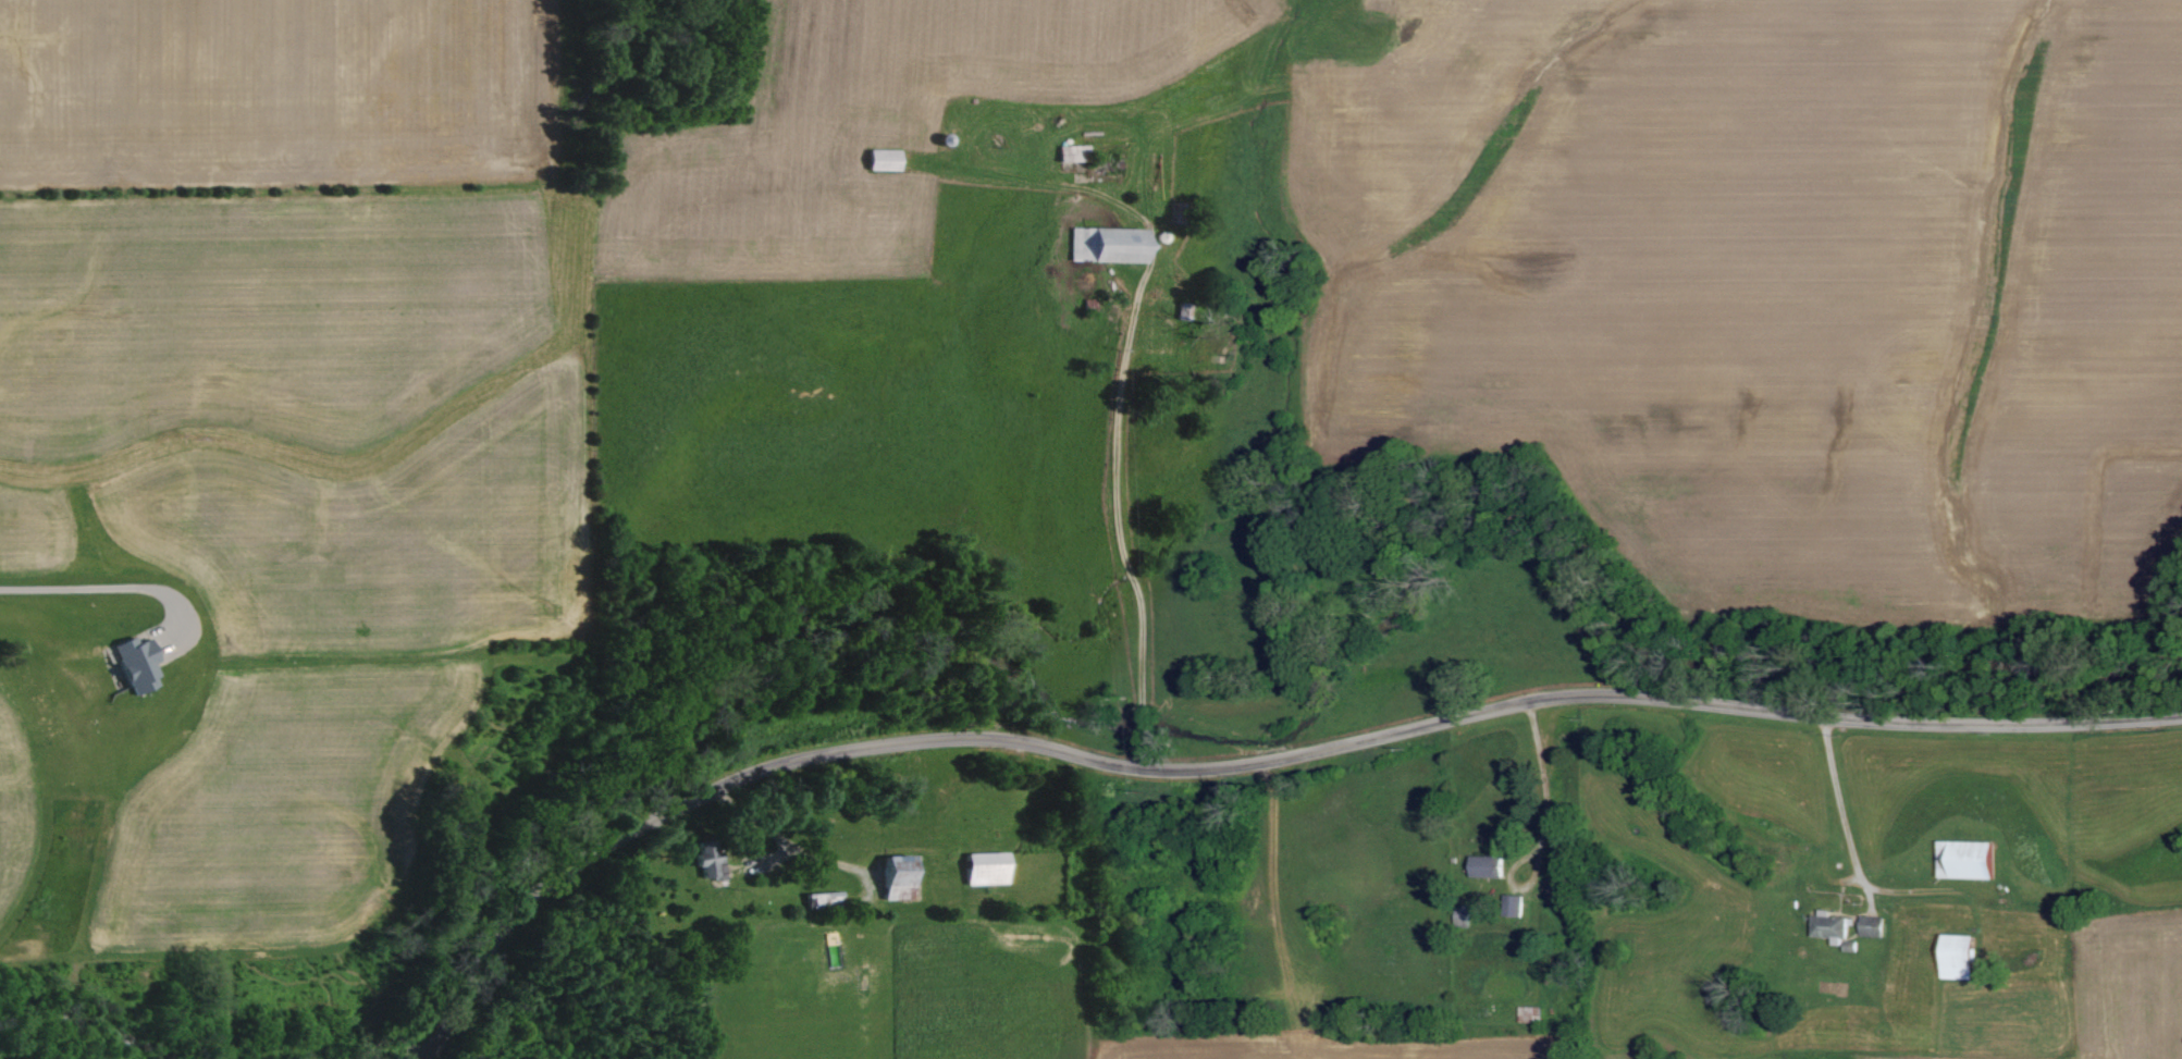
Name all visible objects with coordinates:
building: (1074, 152)
building: (885, 160)
building: (1109, 245)
road: (1118, 520)
road: (94, 590)
building: (140, 664)
road: (1663, 698)
road: (732, 783)
road: (1544, 785)
road: (1840, 801)
road: (788, 842)
building: (1978, 860)
building: (712, 862)
building: (1491, 865)
building: (989, 869)
building: (902, 885)
building: (1875, 926)
building: (1839, 931)
building: (1967, 958)

